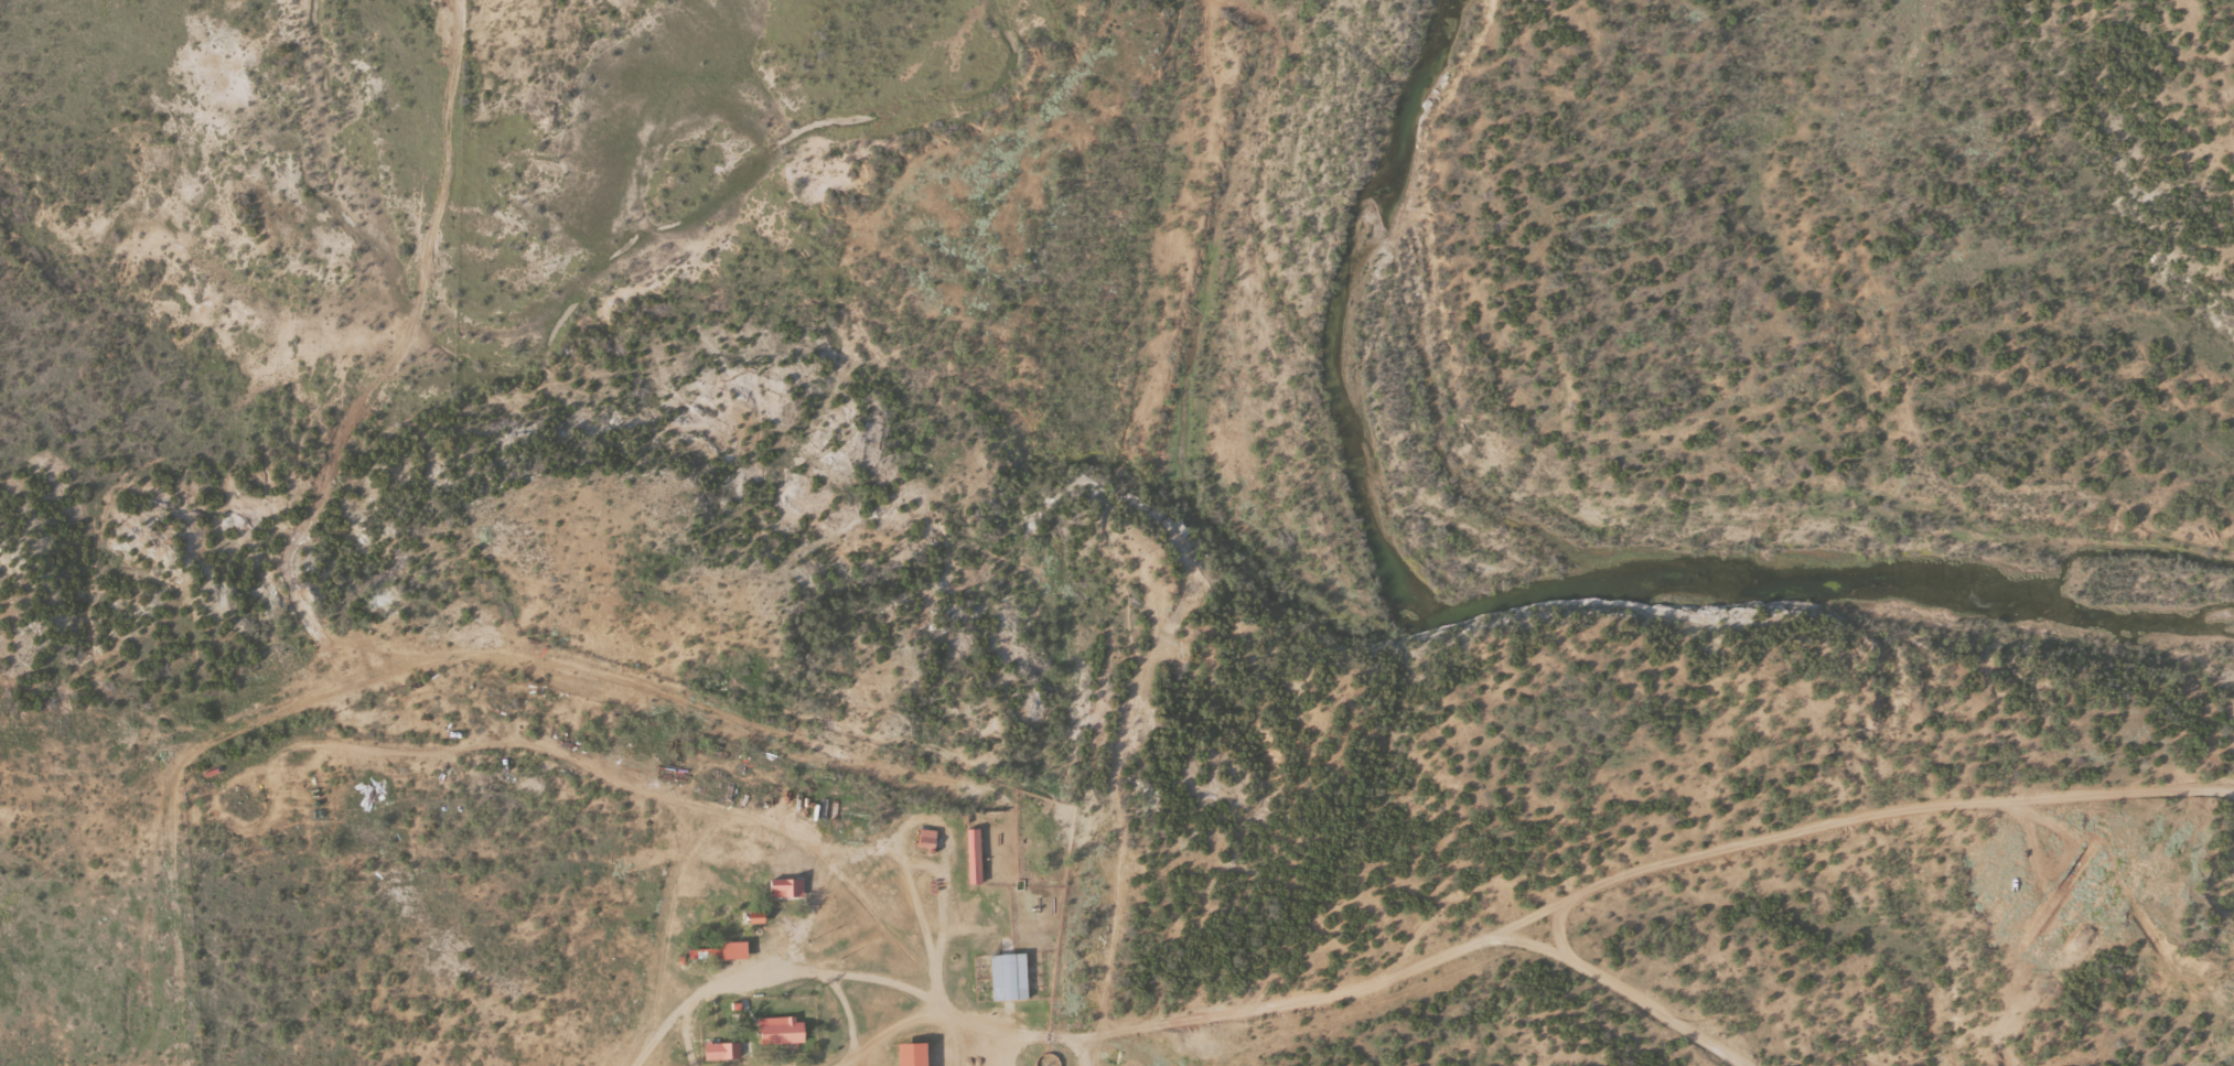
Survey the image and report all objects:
road: (1920, 103)
river: (1538, 567)
road: (1645, 844)
building: (974, 857)
building: (786, 889)
building: (720, 952)
building: (1009, 978)
road: (1203, 1001)
building: (781, 1031)
building: (721, 1052)
road: (1063, 1052)
building: (911, 1054)

